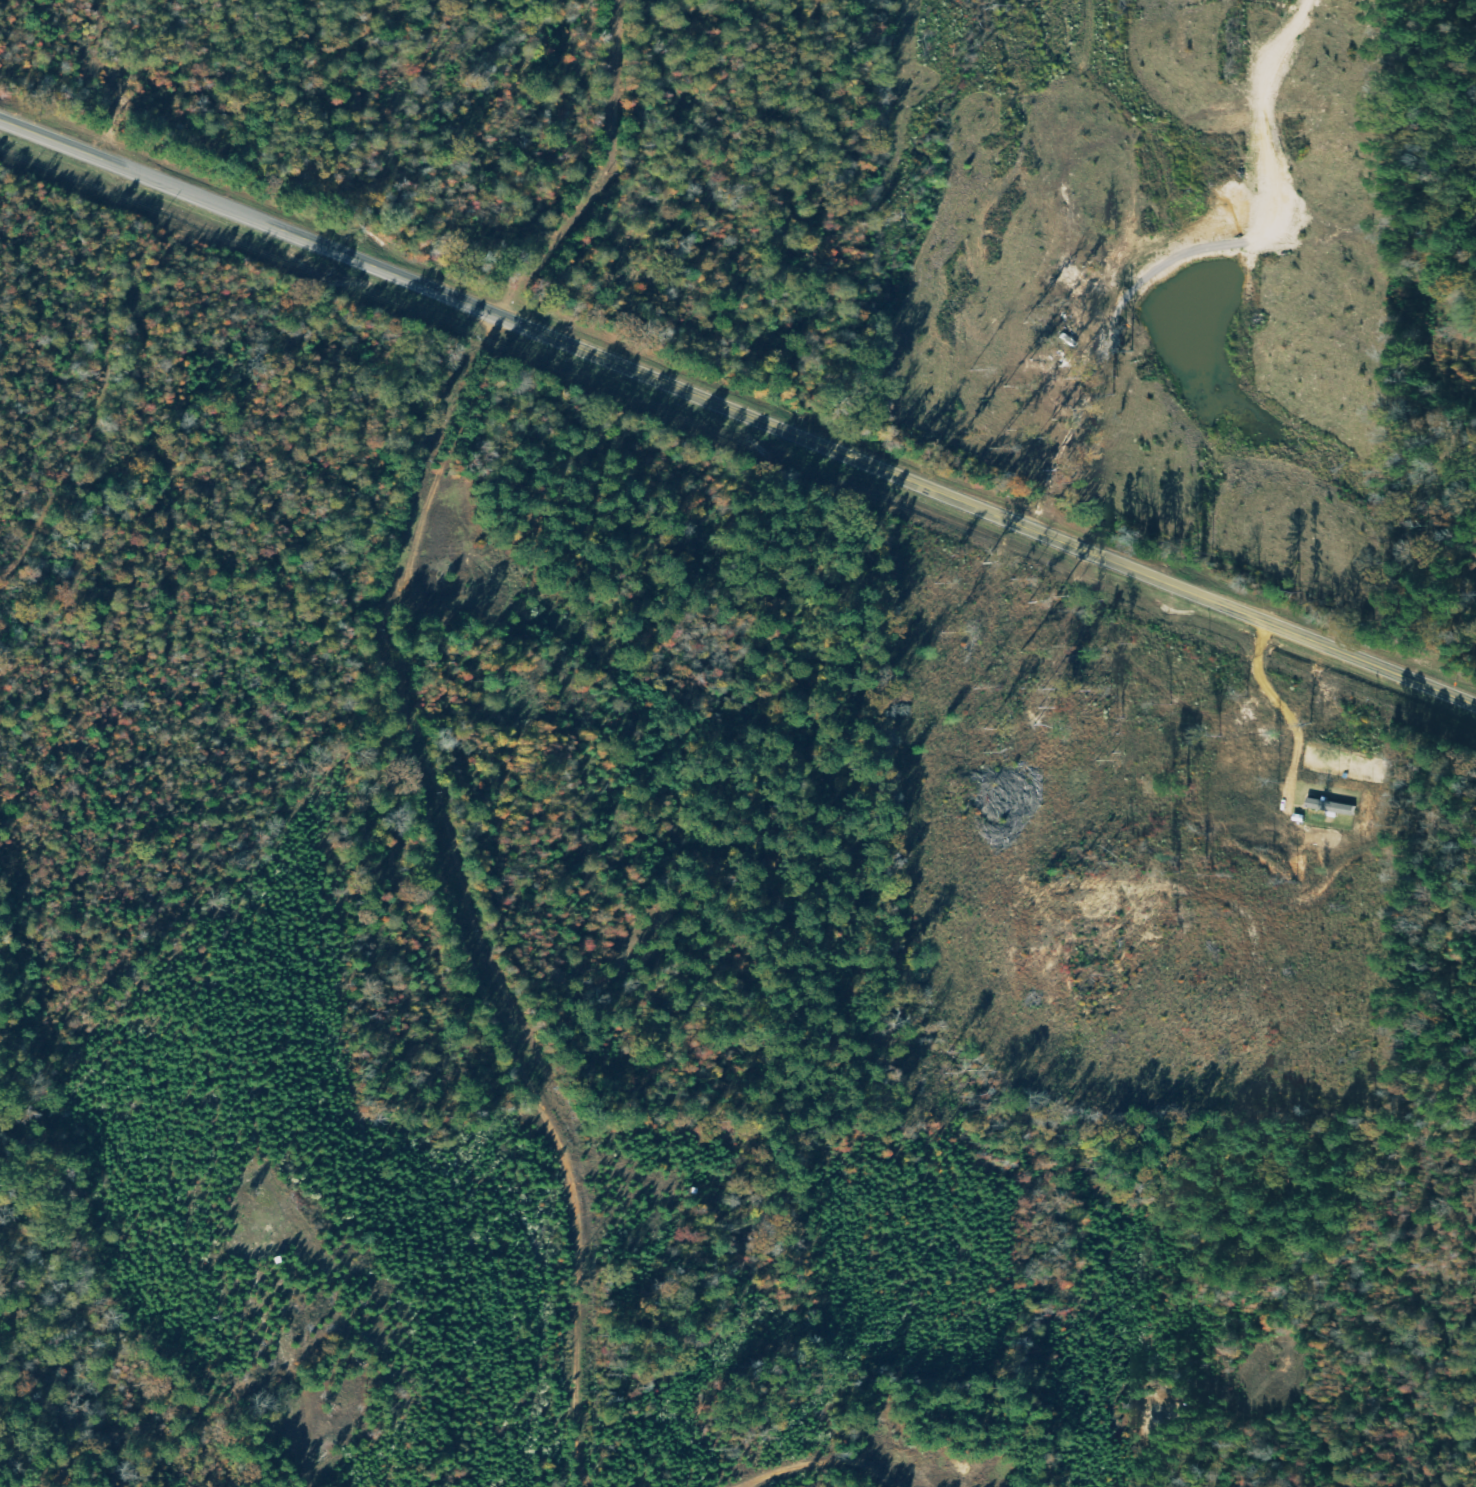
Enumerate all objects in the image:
road: (738, 411)
building: (1331, 813)
road: (416, 917)
road: (680, 1482)

